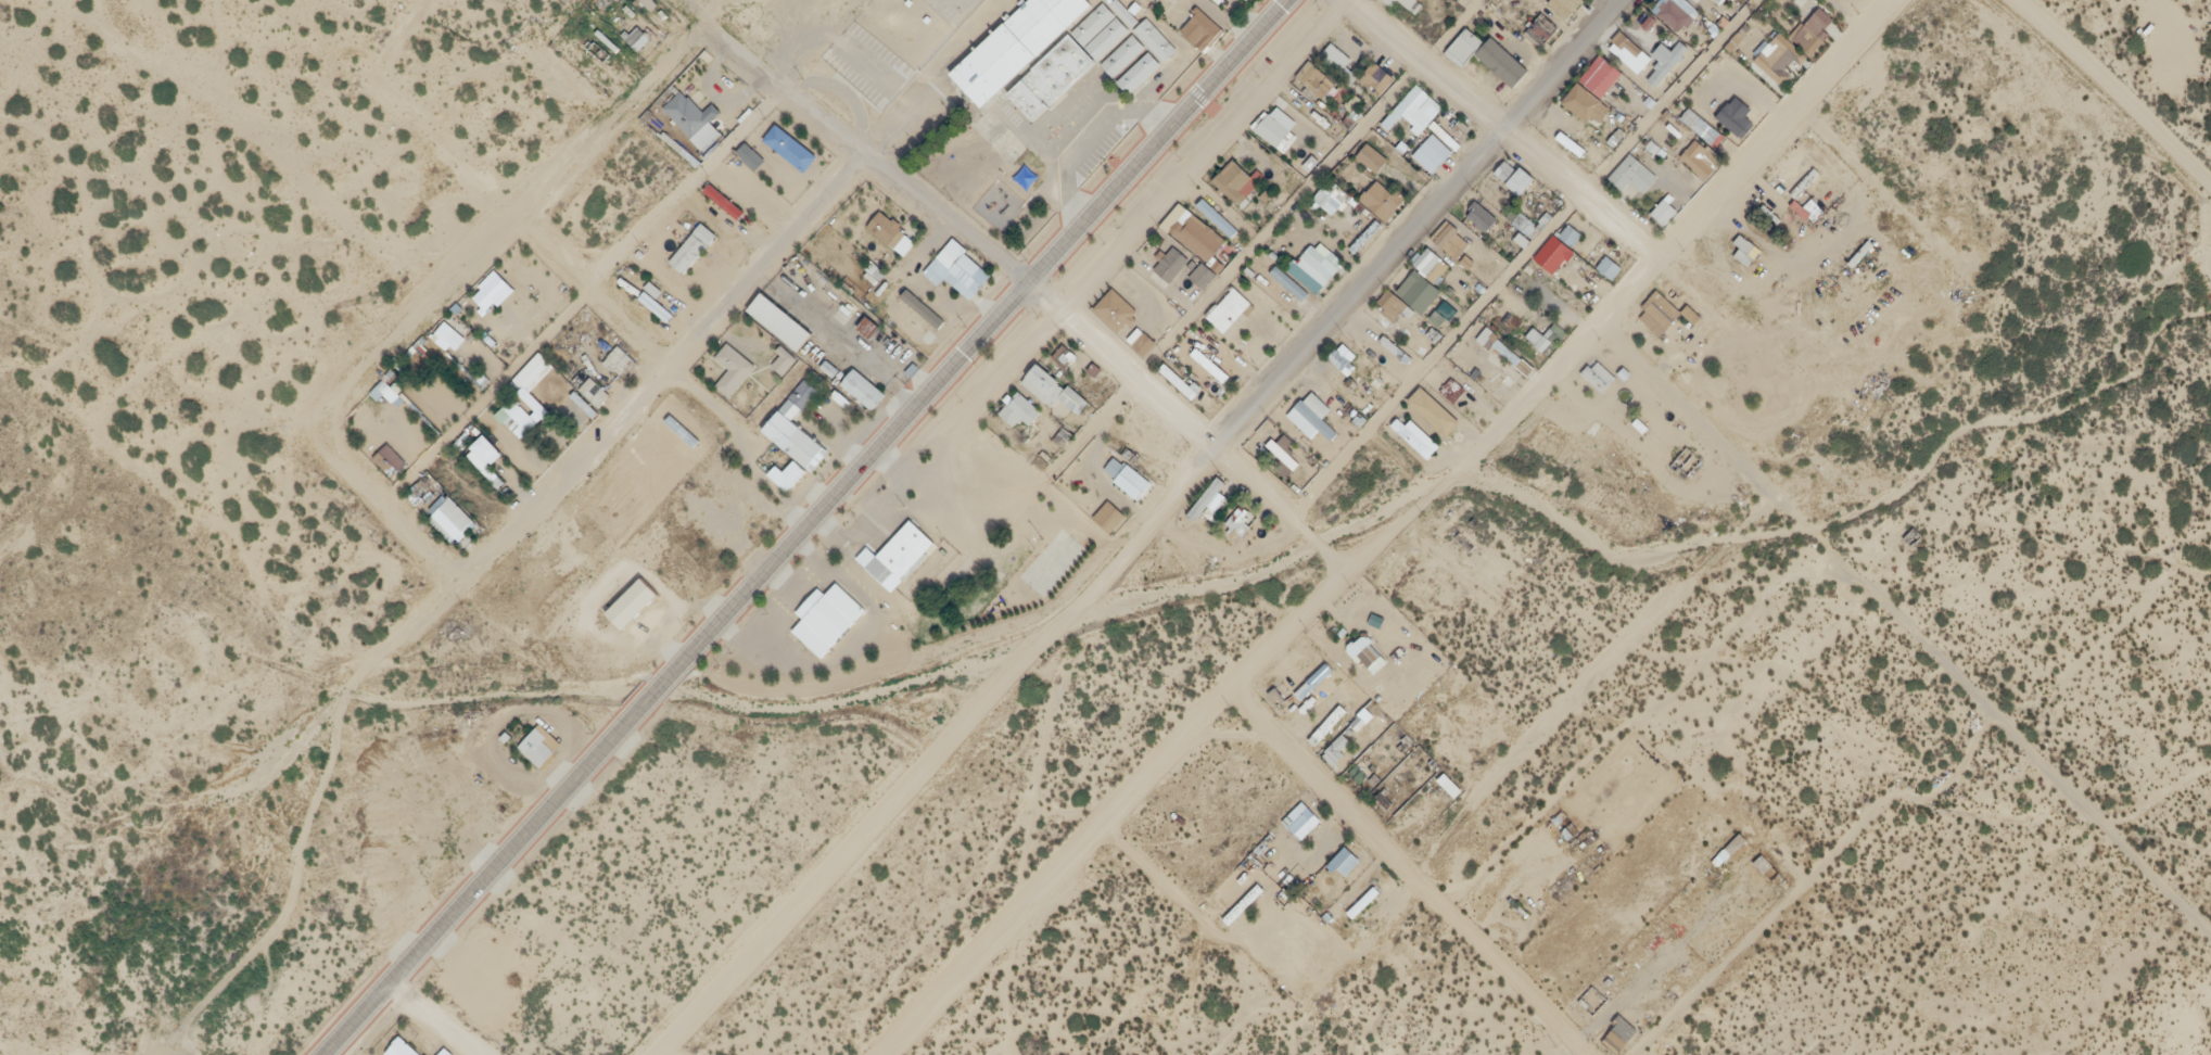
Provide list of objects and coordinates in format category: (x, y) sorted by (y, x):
building: (1221, 0)
building: (1388, 2)
building: (1411, 3)
building: (1200, 27)
building: (1542, 27)
building: (1813, 30)
building: (1464, 45)
building: (1013, 50)
building: (1628, 52)
building: (1336, 56)
building: (1087, 63)
building: (1667, 63)
building: (1377, 76)
building: (1319, 78)
building: (1592, 89)
road: (2115, 91)
building: (1735, 111)
building: (694, 118)
road: (1500, 124)
building: (1272, 128)
building: (790, 147)
road: (843, 148)
building: (1428, 155)
building: (1371, 156)
road: (1206, 162)
building: (1634, 175)
building: (1519, 176)
road: (1306, 190)
building: (1481, 215)
road: (1413, 225)
building: (891, 233)
road: (501, 234)
building: (1568, 234)
building: (1198, 236)
building: (1452, 239)
building: (692, 247)
road: (1525, 259)
building: (1172, 262)
building: (1608, 266)
building: (969, 271)
building: (1204, 272)
building: (1572, 278)
building: (1420, 289)
building: (492, 290)
building: (1561, 293)
road: (588, 294)
road: (576, 306)
building: (1116, 307)
building: (1229, 307)
building: (1659, 310)
building: (1507, 349)
building: (1065, 355)
building: (1210, 363)
building: (734, 367)
building: (1599, 374)
building: (1178, 379)
building: (1502, 383)
building: (1053, 385)
building: (1453, 385)
building: (863, 386)
building: (1435, 406)
building: (1318, 411)
building: (796, 423)
road: (1182, 425)
road: (601, 432)
building: (1418, 433)
building: (1284, 452)
building: (1128, 474)
building: (1111, 513)
road: (376, 516)
building: (453, 517)
road: (1383, 522)
road: (810, 529)
building: (894, 563)
building: (625, 610)
building: (819, 627)
building: (1363, 650)
building: (1329, 724)
building: (1337, 746)
road: (936, 753)
building: (1345, 857)
road: (1407, 870)
road: (434, 1020)
building: (1621, 1029)
building: (403, 1047)
building: (445, 1052)
road: (664, 1053)

